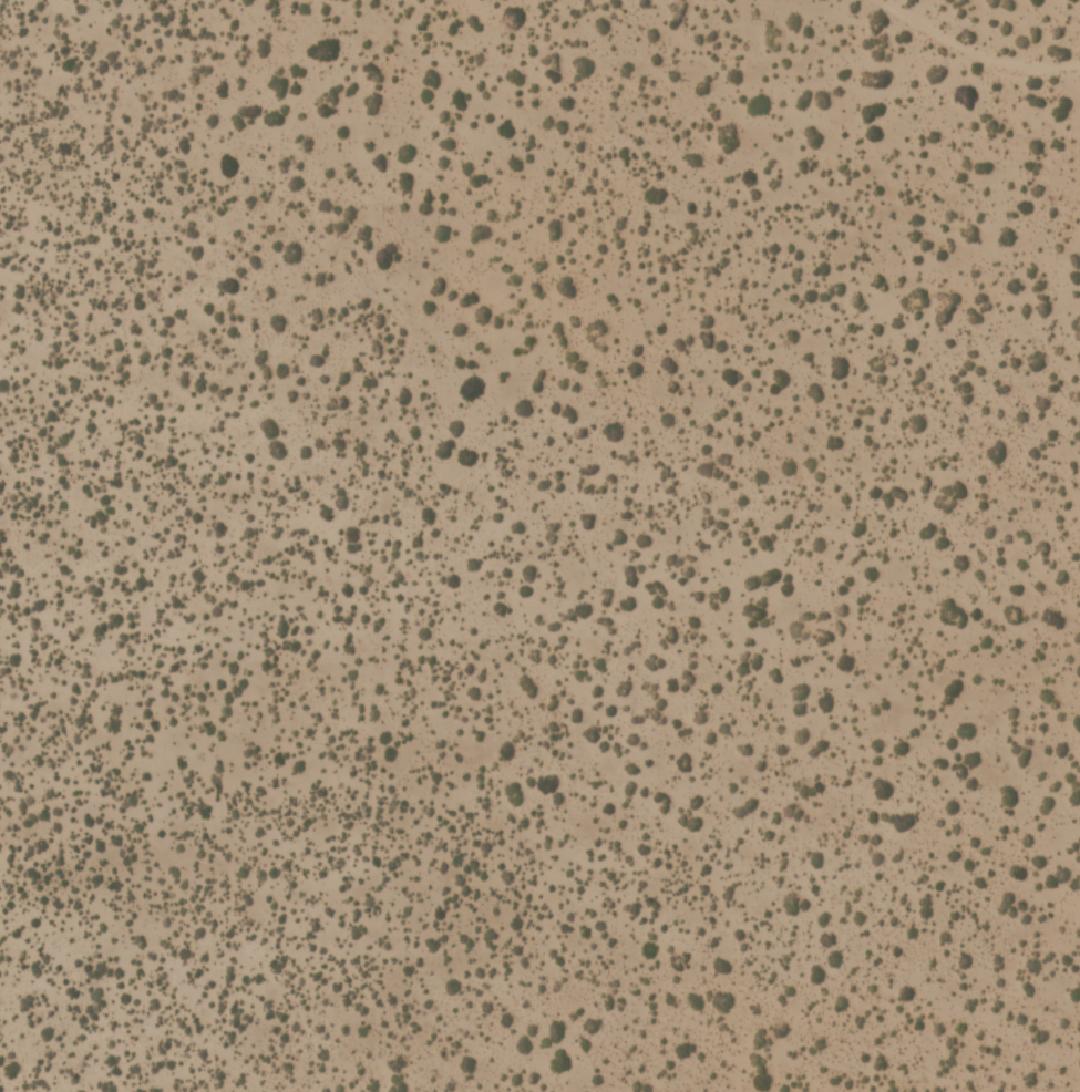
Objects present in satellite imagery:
road: (974, 45)

